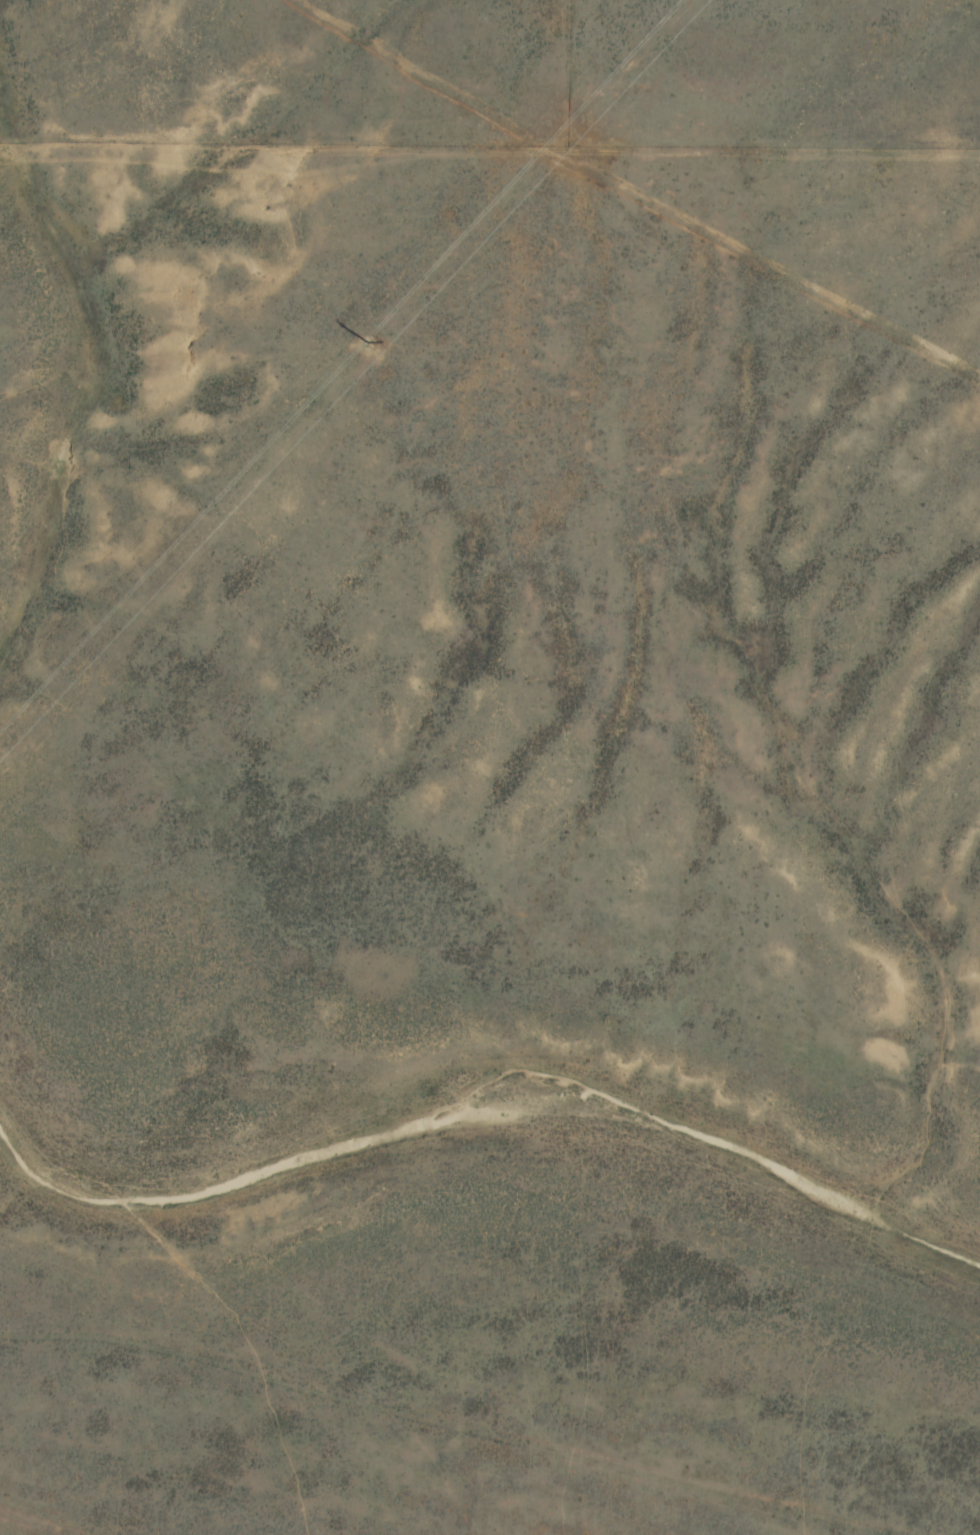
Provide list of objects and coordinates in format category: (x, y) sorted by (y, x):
power tower: (366, 344)
road: (190, 1468)

